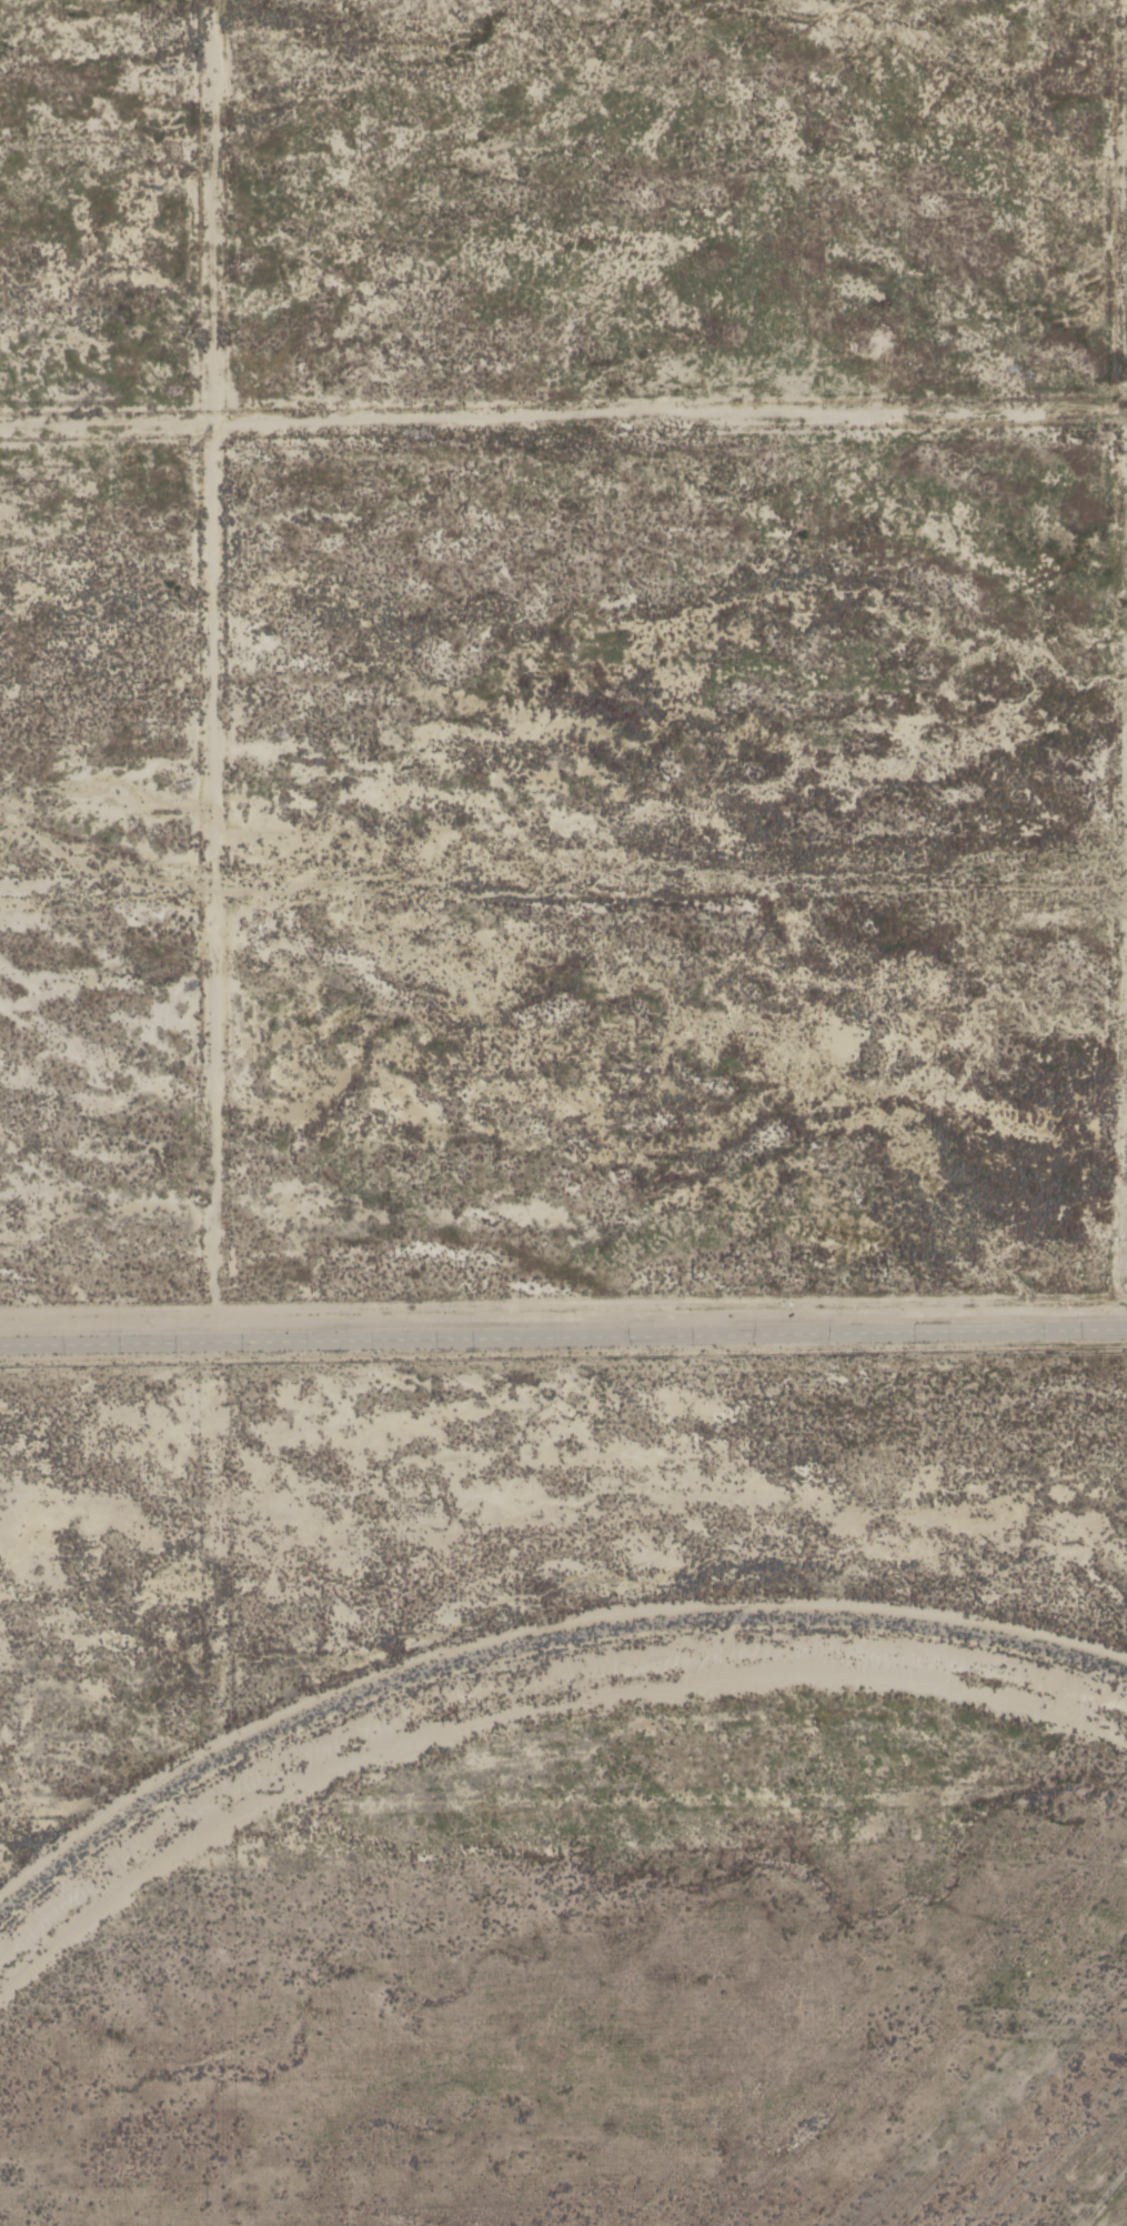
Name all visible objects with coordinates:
road: (563, 1338)

